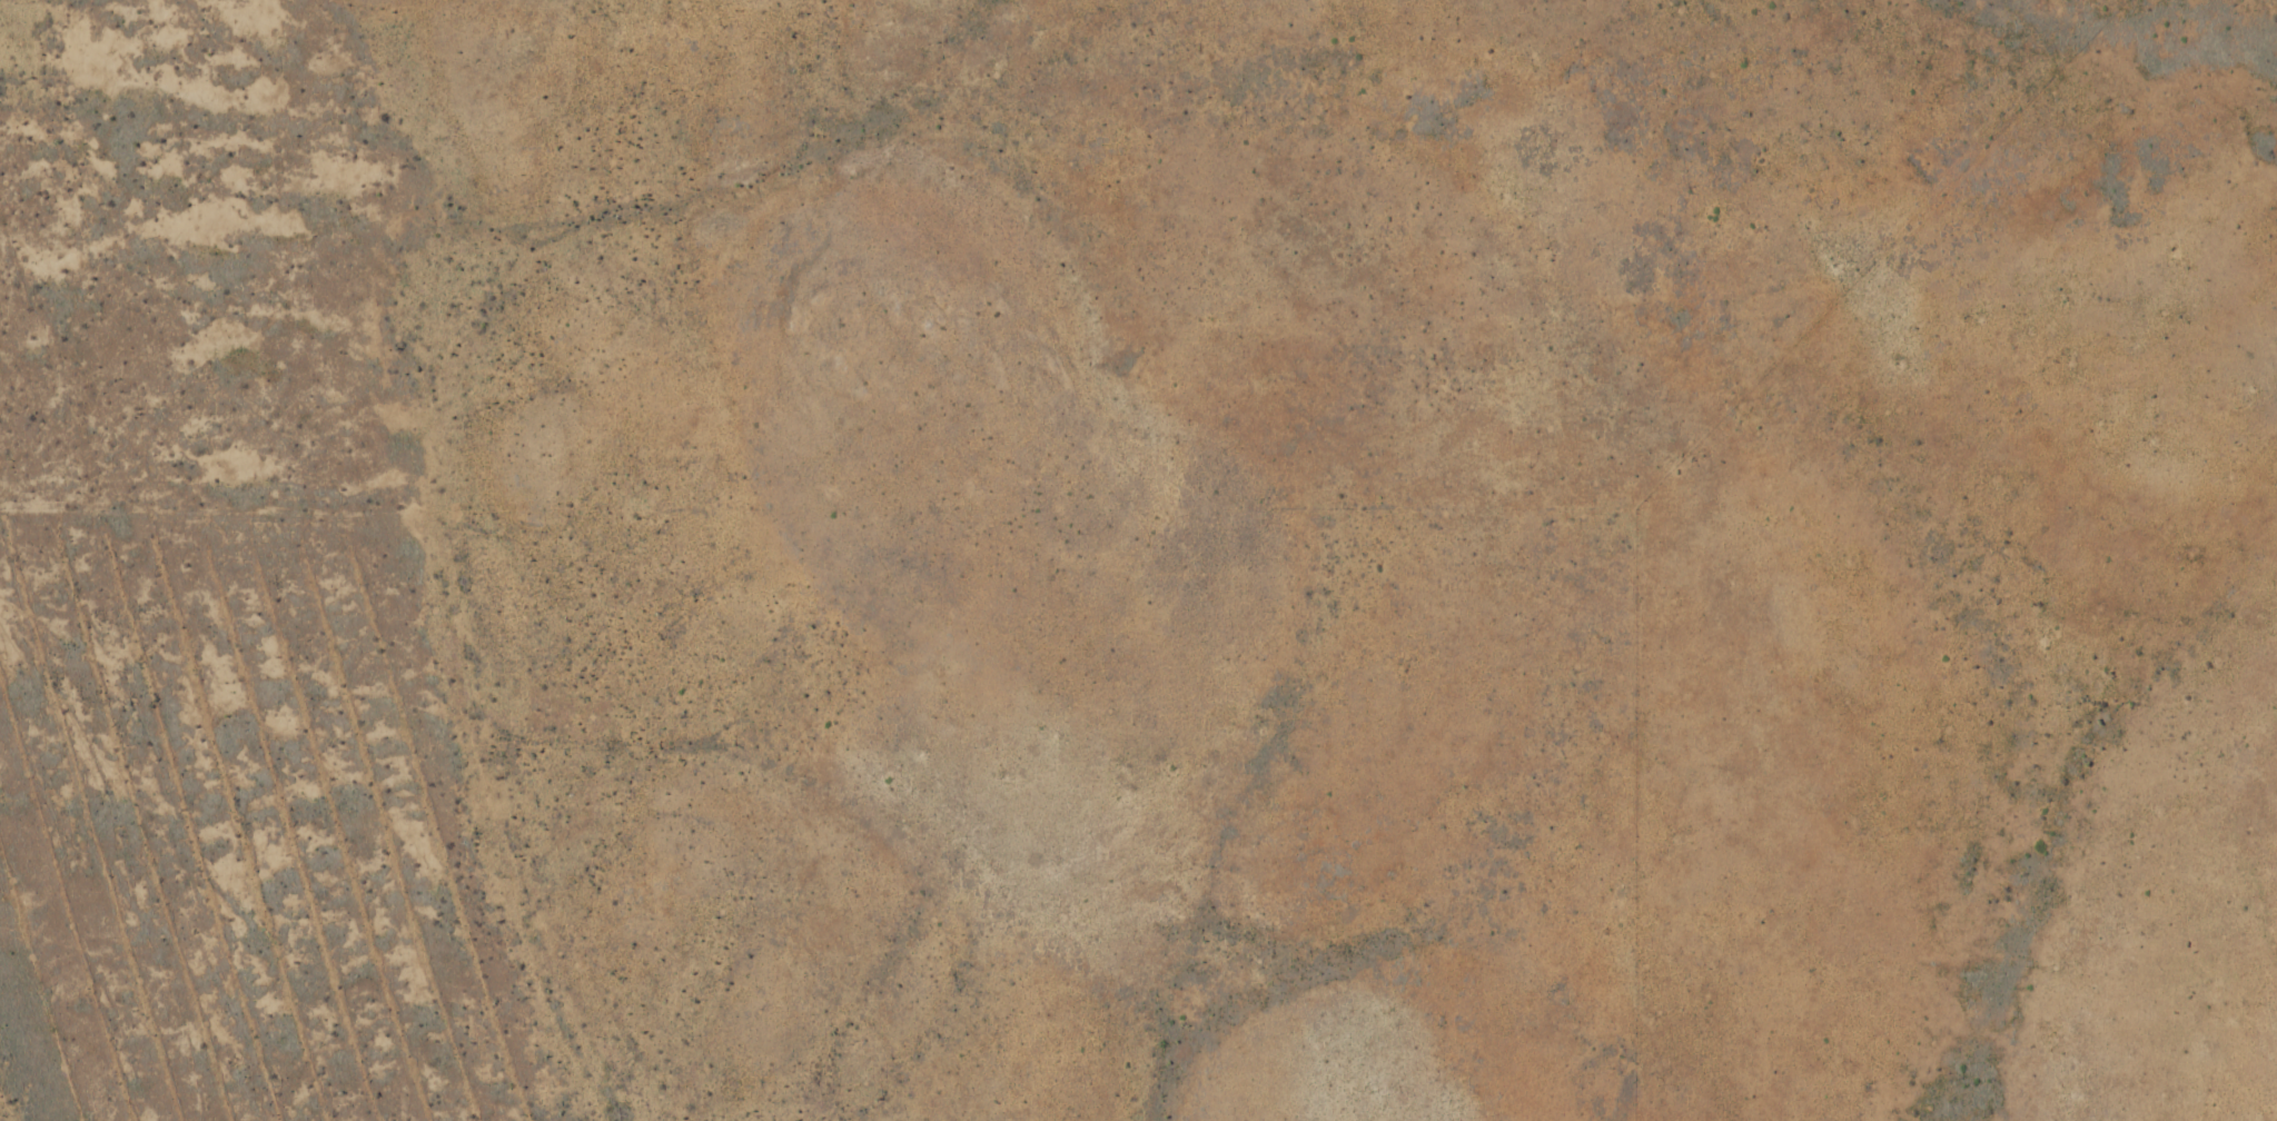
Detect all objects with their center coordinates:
river: (307, 565)
road: (7, 1102)

